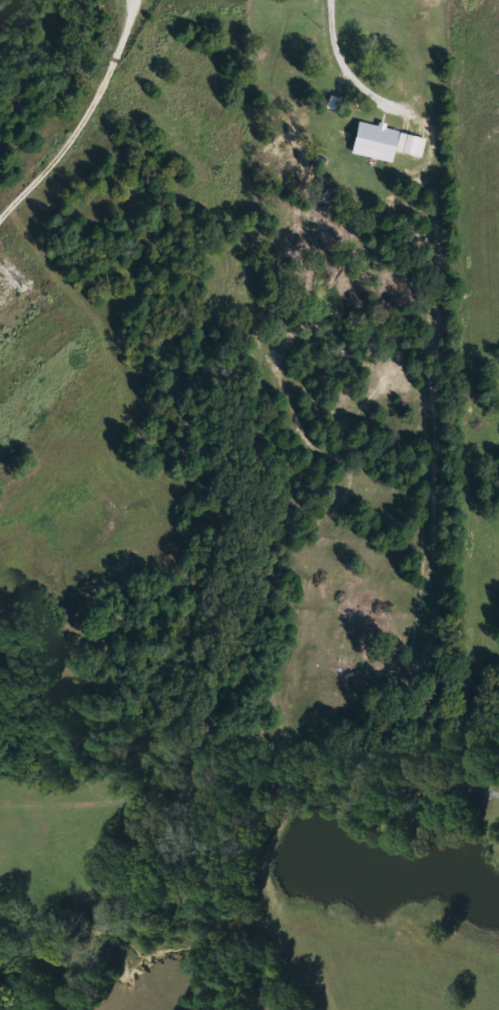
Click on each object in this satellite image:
building: (388, 144)

